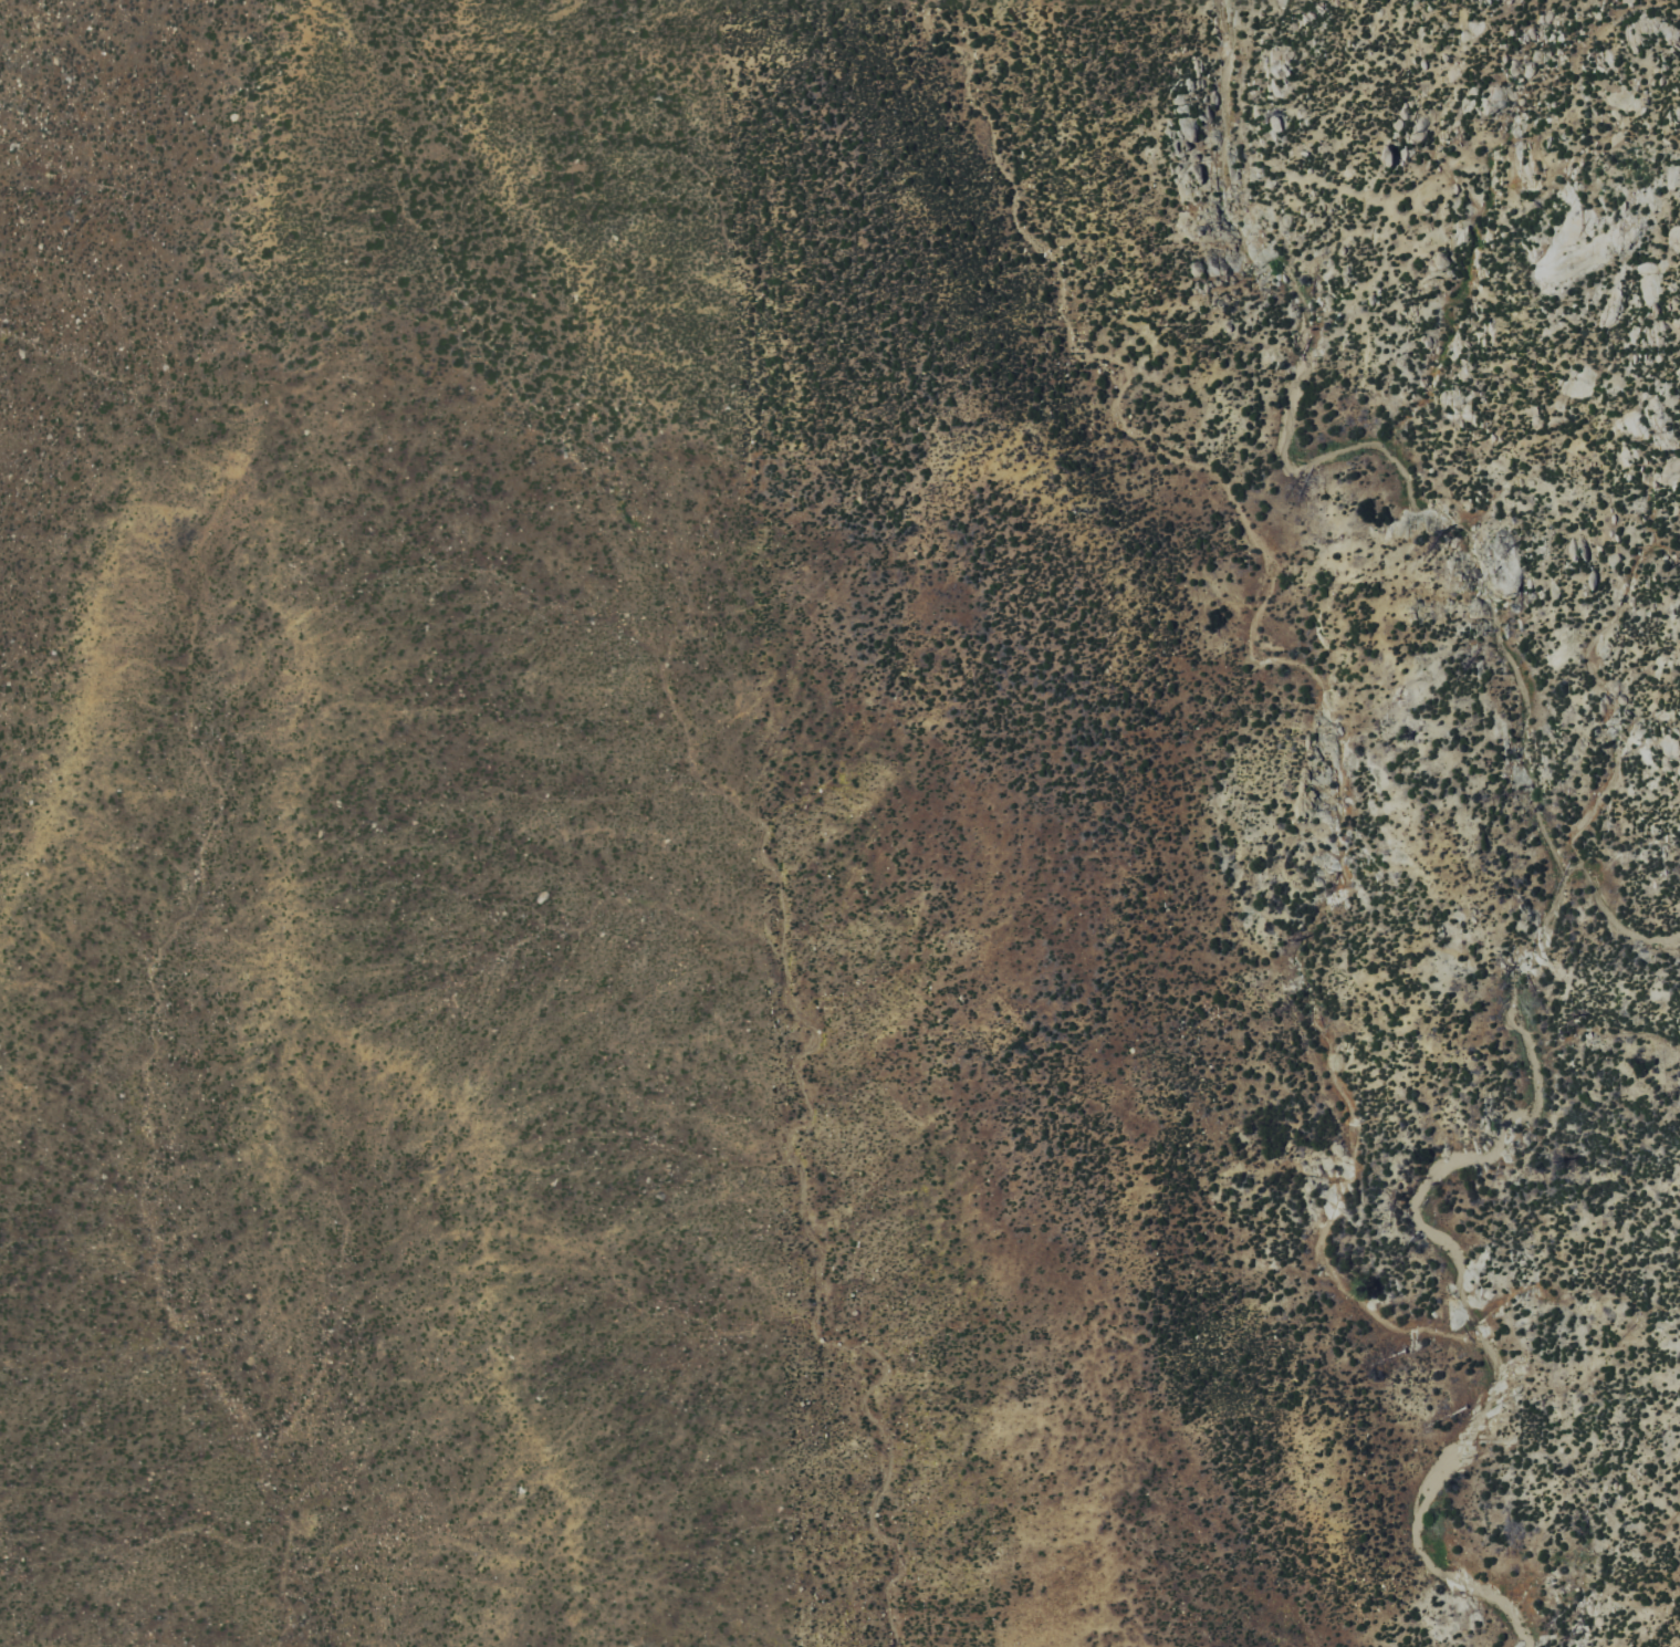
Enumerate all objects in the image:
road: (1544, 116)
road: (1256, 142)
road: (1230, 906)

